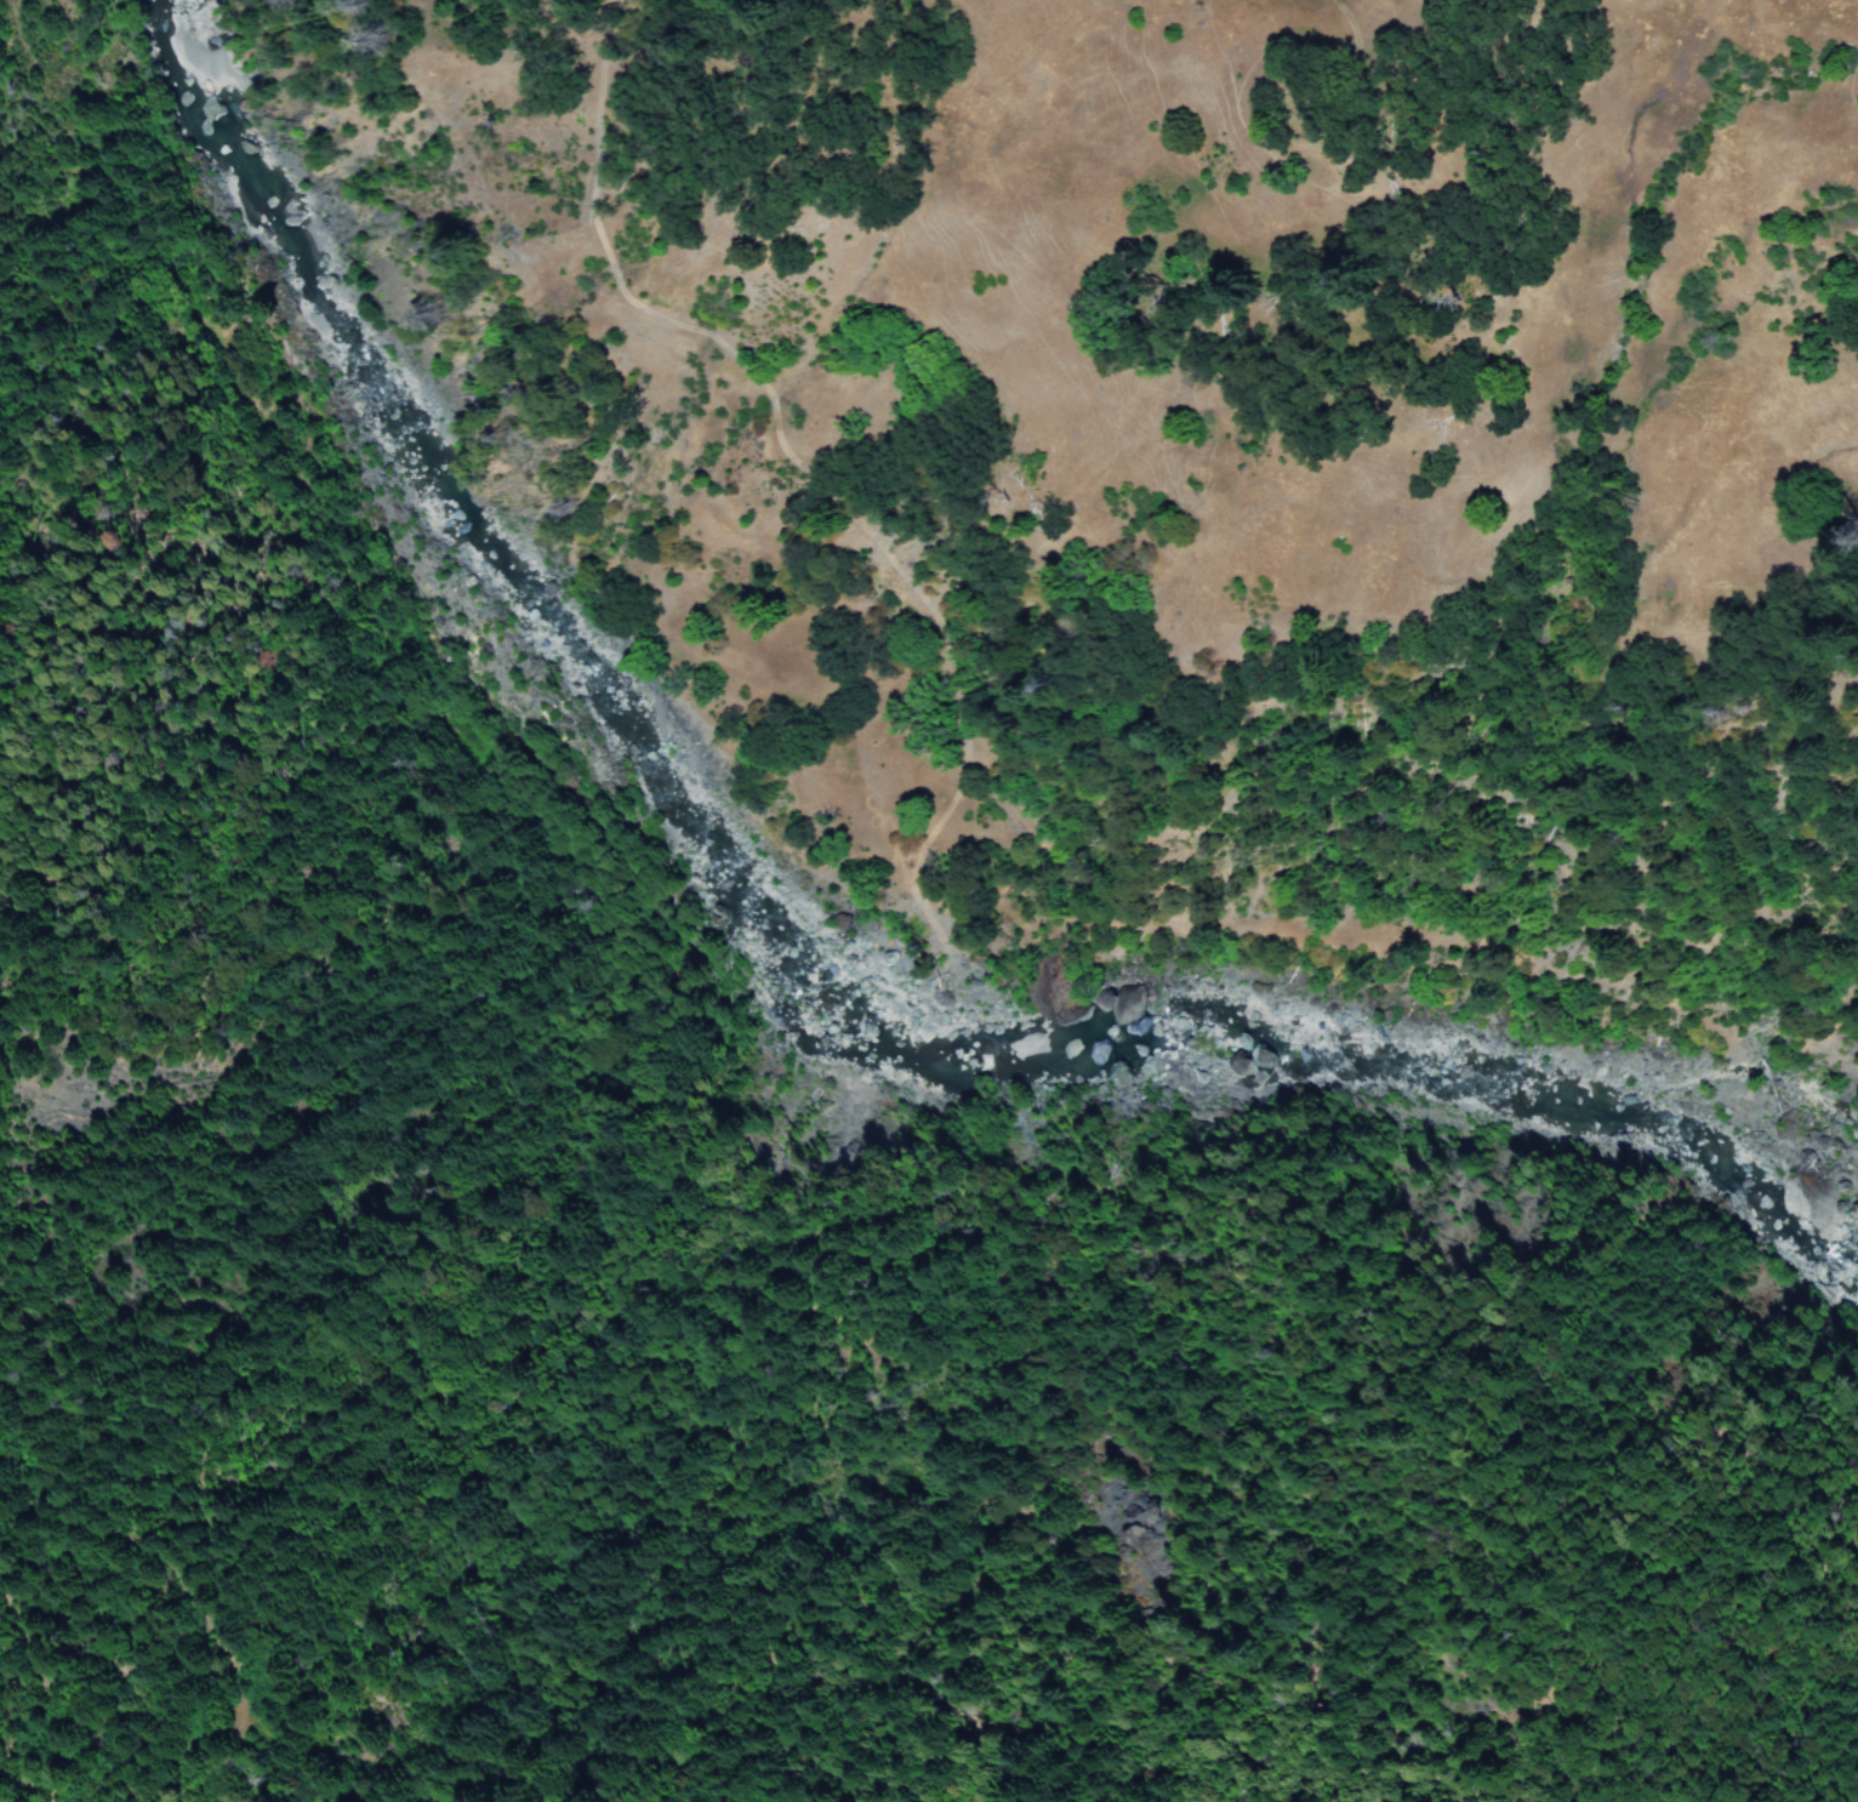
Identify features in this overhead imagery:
river: (488, 542)
river: (1385, 1074)

